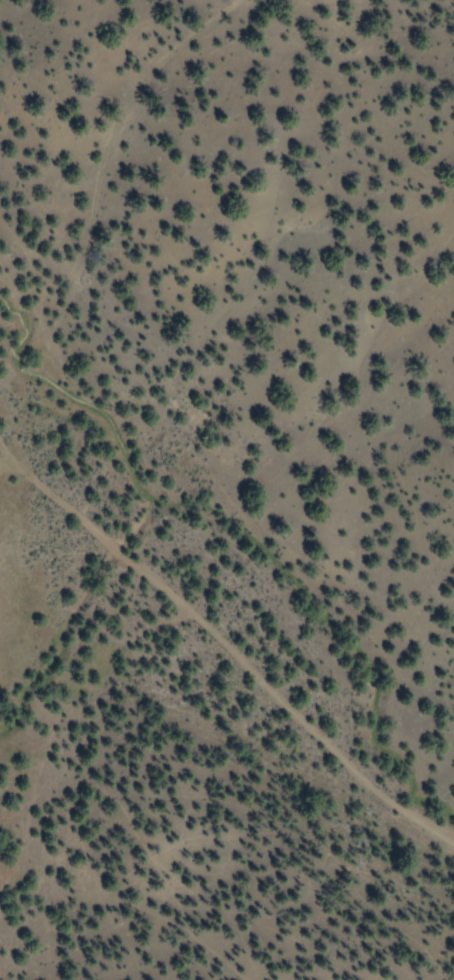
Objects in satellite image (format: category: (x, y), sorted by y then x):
road: (107, 135)
road: (231, 651)

